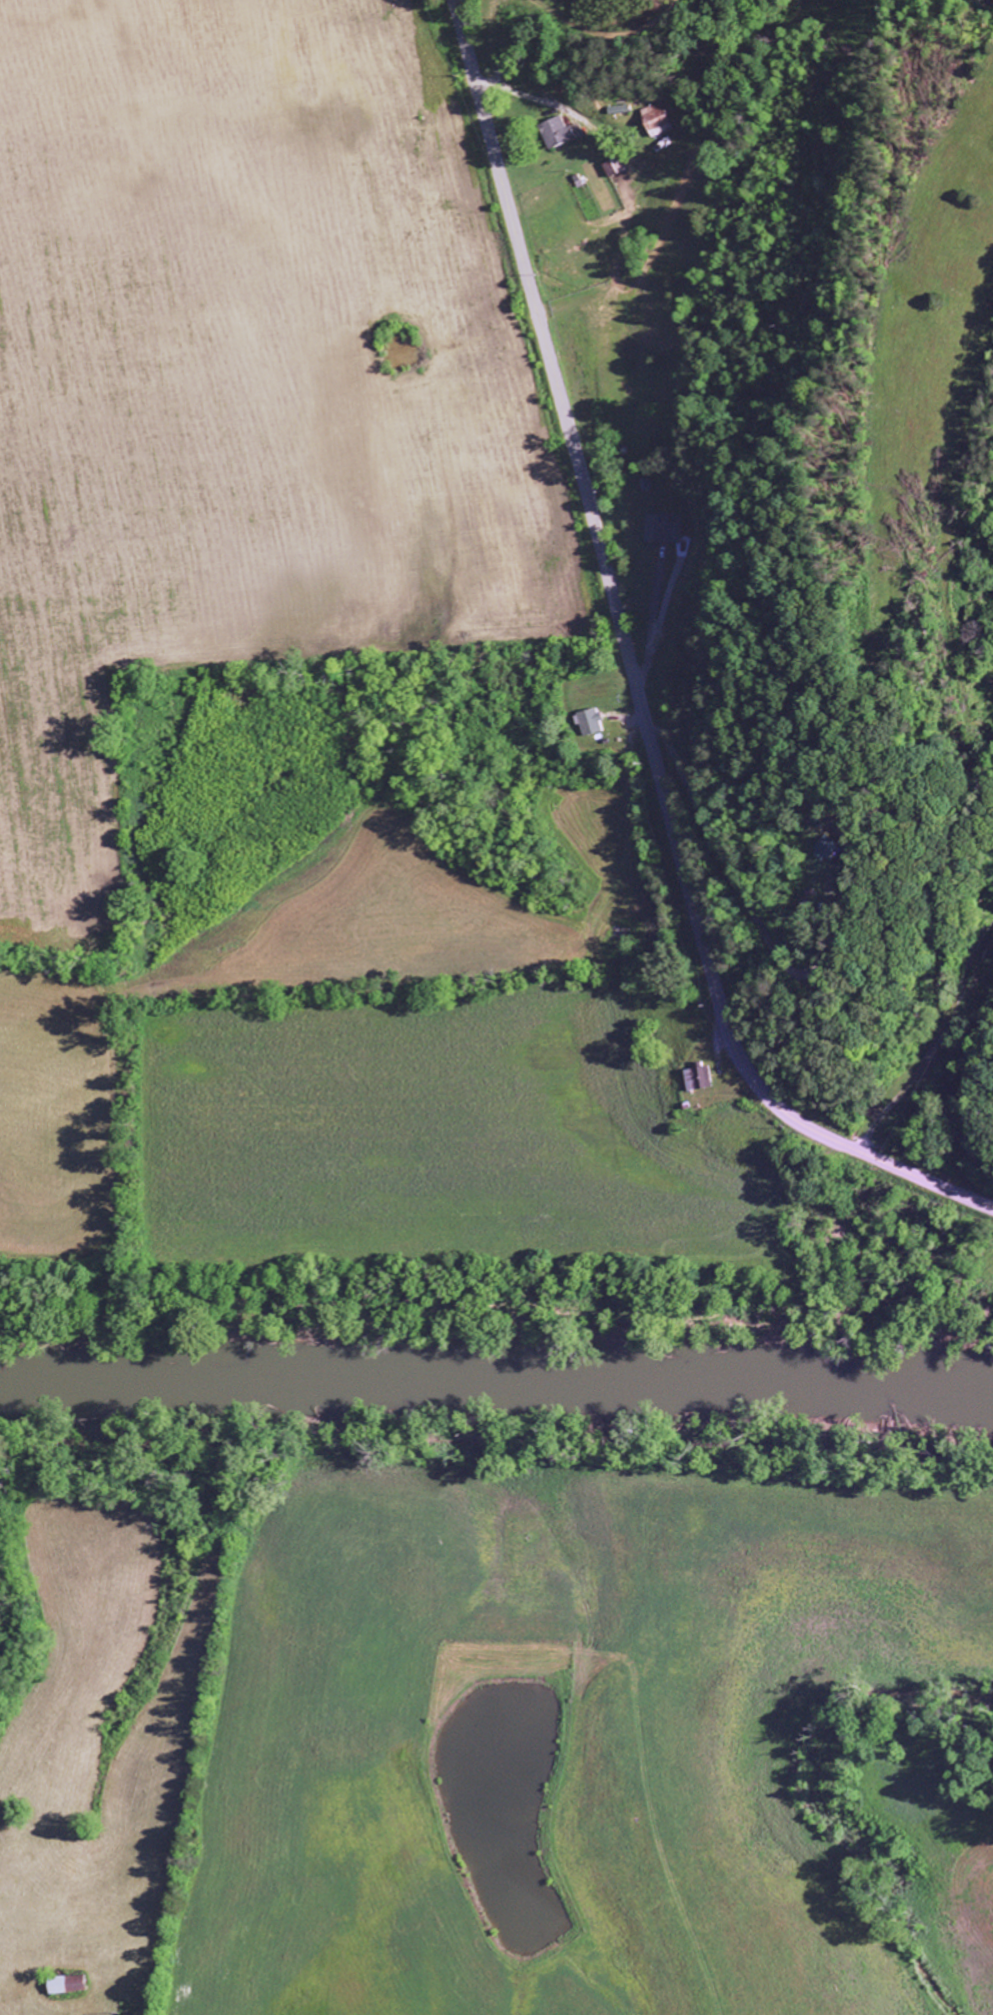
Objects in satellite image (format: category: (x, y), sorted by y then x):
building: (660, 119)
building: (566, 132)
building: (663, 528)
road: (633, 673)
building: (596, 721)
building: (831, 847)
road: (917, 1037)
building: (703, 1078)
river: (496, 1358)
building: (77, 1985)

